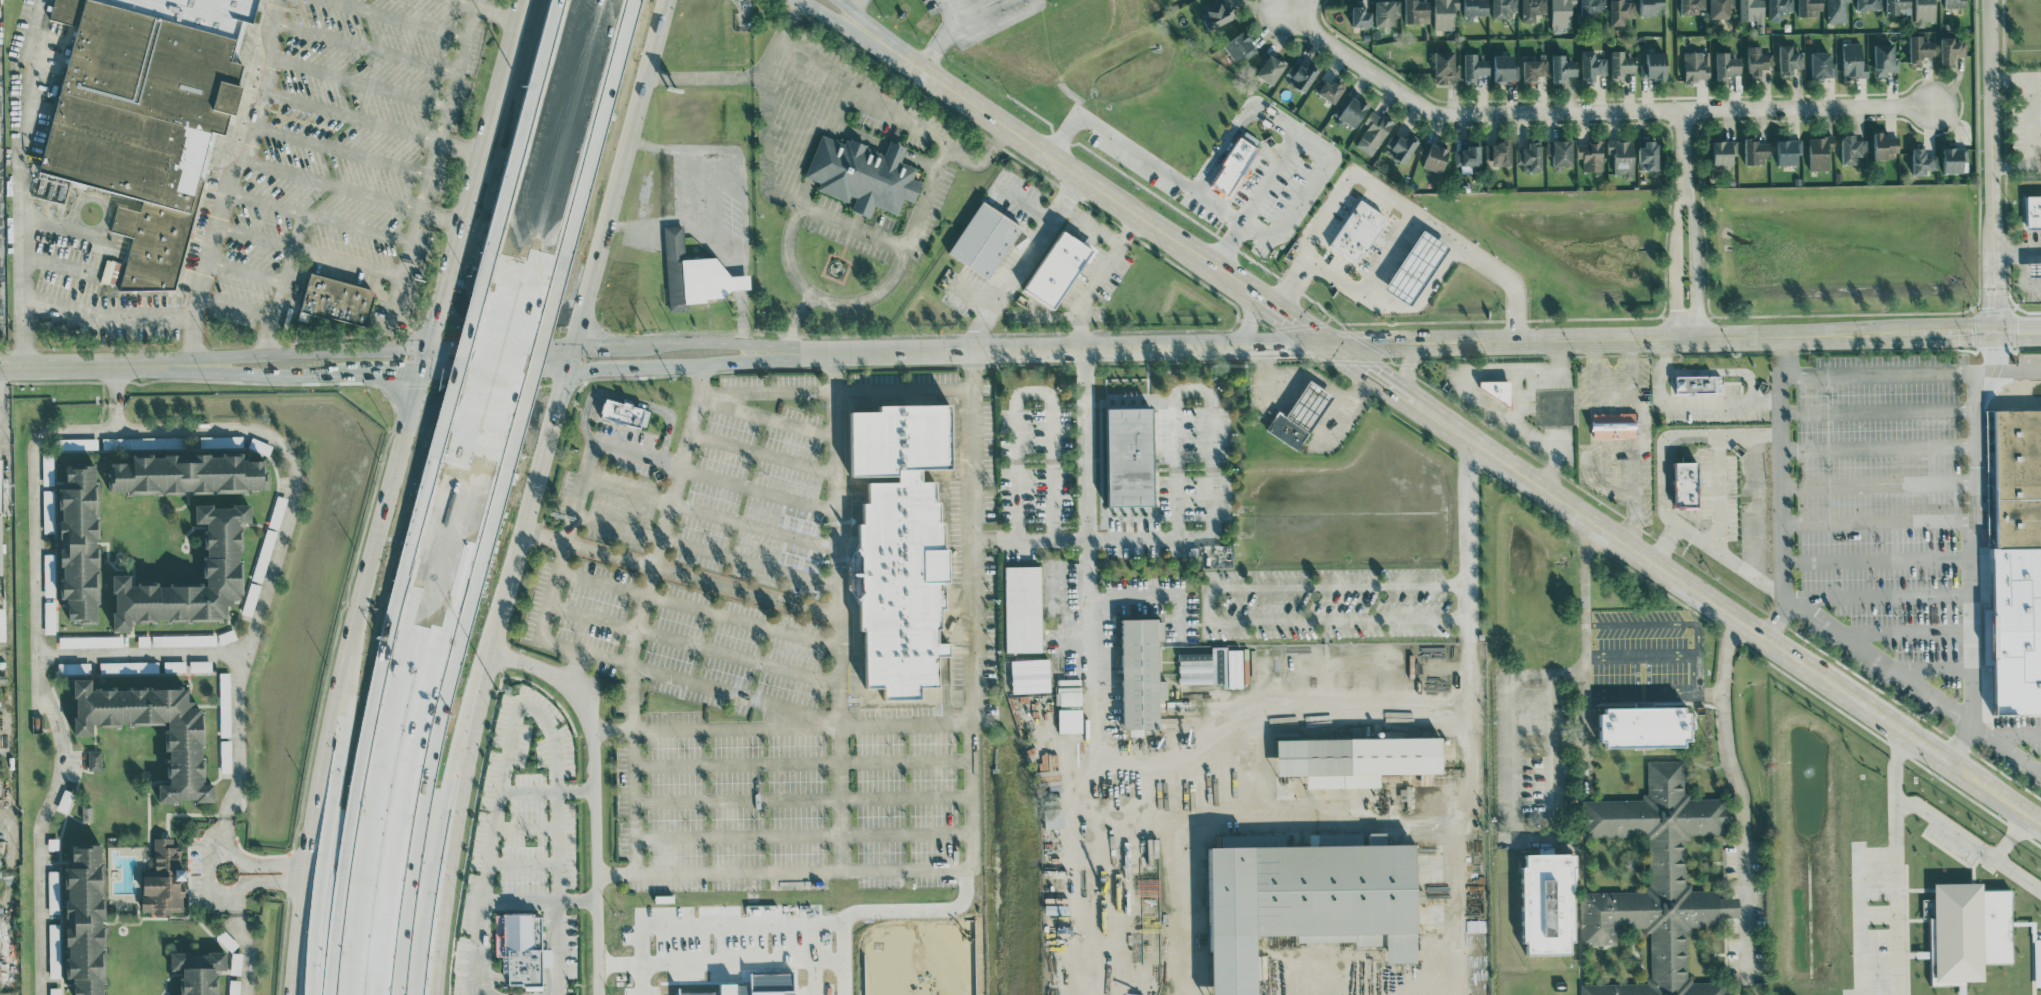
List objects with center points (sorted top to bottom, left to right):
road: (465, 3)
road: (475, 3)
building: (1955, 4)
building: (1869, 5)
building: (1693, 6)
road: (854, 7)
road: (1294, 7)
building: (1476, 7)
building: (1593, 7)
building: (1651, 7)
building: (1811, 7)
building: (1898, 7)
building: (1505, 8)
building: (1721, 8)
building: (1779, 8)
building: (1533, 9)
road: (848, 10)
building: (1752, 10)
building: (1836, 10)
building: (1417, 11)
building: (1621, 11)
building: (1925, 11)
road: (986, 12)
road: (496, 13)
building: (1387, 13)
building: (1218, 14)
building: (1445, 14)
building: (1562, 14)
road: (827, 15)
building: (1361, 17)
road: (948, 33)
road: (658, 40)
building: (1239, 46)
road: (509, 49)
building: (1920, 49)
building: (1951, 49)
building: (1758, 59)
building: (1789, 59)
building: (1885, 59)
building: (1854, 60)
building: (1621, 64)
building: (1727, 64)
building: (1823, 64)
building: (1655, 65)
building: (1695, 65)
building: (1446, 66)
building: (1475, 66)
building: (1592, 66)
building: (1271, 67)
building: (1506, 67)
building: (1534, 68)
building: (1563, 68)
building: (1300, 74)
road: (841, 84)
building: (1331, 89)
road: (2030, 103)
building: (1353, 111)
road: (1593, 111)
road: (352, 115)
building: (146, 116)
road: (1238, 120)
building: (1373, 132)
building: (1885, 144)
road: (461, 146)
building: (1401, 146)
parking lot: (341, 147)
building: (1853, 148)
road: (535, 150)
building: (1756, 150)
building: (1789, 150)
road: (343, 151)
building: (1499, 151)
road: (577, 152)
building: (1725, 152)
building: (1820, 152)
building: (1649, 154)
road: (1324, 155)
building: (1468, 155)
building: (1591, 155)
building: (1530, 156)
building: (1437, 157)
building: (1956, 158)
building: (1923, 160)
building: (1232, 166)
road: (1991, 167)
road: (2016, 168)
road: (1162, 169)
building: (864, 174)
road: (229, 178)
road: (20, 182)
road: (331, 186)
road: (688, 186)
road: (716, 196)
road: (1393, 198)
road: (1028, 203)
building: (2034, 211)
road: (443, 216)
road: (610, 218)
road: (838, 221)
road: (741, 223)
road: (1092, 224)
road: (1685, 224)
road: (462, 229)
building: (1357, 230)
road: (255, 233)
road: (416, 233)
building: (985, 238)
road: (2017, 252)
road: (1389, 254)
road: (1025, 263)
building: (1418, 265)
gas station: (1418, 265)
building: (1059, 267)
building: (2035, 268)
road: (246, 269)
building: (695, 273)
road: (2023, 274)
road: (1098, 277)
road: (978, 298)
building: (337, 299)
road: (826, 299)
road: (1388, 306)
road: (236, 307)
road: (1250, 315)
road: (106, 316)
road: (794, 317)
road: (512, 320)
road: (2008, 332)
road: (1947, 333)
traffic signals: (1975, 333)
traffic signals: (1320, 339)
road: (1378, 339)
road: (272, 340)
road: (742, 342)
road: (609, 344)
traffic signals: (575, 357)
traffic signals: (429, 360)
road: (287, 362)
road: (704, 362)
road: (1406, 367)
road: (475, 369)
road: (2008, 370)
road: (1879, 371)
road: (1293, 375)
road: (519, 376)
road: (700, 377)
road: (116, 383)
building: (1699, 383)
road: (905, 386)
road: (1463, 386)
road: (491, 390)
building: (1498, 390)
road: (1615, 390)
road: (564, 391)
road: (1033, 391)
road: (628, 399)
road: (1516, 405)
road: (1344, 406)
road: (1879, 410)
building: (625, 412)
building: (1300, 415)
road: (418, 421)
road: (1645, 423)
road: (1447, 425)
building: (1616, 426)
road: (1211, 438)
building: (107, 442)
building: (77, 443)
road: (1661, 446)
road: (1879, 446)
road: (592, 448)
road: (546, 450)
road: (1626, 450)
building: (1131, 456)
building: (188, 473)
building: (1687, 483)
road: (1880, 484)
building: (0, 486)
road: (1783, 489)
road: (1720, 498)
road: (1089, 513)
road: (1880, 522)
road: (1468, 538)
road: (1031, 540)
building: (80, 542)
building: (2019, 545)
building: (0, 547)
building: (900, 548)
road: (378, 550)
road: (1977, 552)
road: (1881, 559)
road: (274, 563)
road: (1730, 563)
building: (223, 565)
road: (680, 573)
building: (48, 574)
road: (1882, 596)
road: (1151, 599)
road: (1206, 604)
road: (548, 607)
building: (1023, 608)
road: (1674, 619)
building: (2, 624)
road: (1910, 631)
road: (1584, 652)
road: (1879, 659)
parking lot: (748, 664)
building: (126, 666)
road: (531, 666)
building: (1212, 667)
road: (1936, 668)
road: (40, 669)
building: (1030, 675)
building: (1141, 675)
road: (694, 682)
road: (1652, 687)
building: (1068, 695)
road: (1298, 707)
road: (390, 715)
road: (433, 720)
road: (906, 726)
building: (1647, 726)
road: (613, 729)
road: (472, 730)
road: (2004, 734)
road: (238, 736)
building: (184, 742)
road: (2014, 755)
building: (94, 759)
building: (1358, 759)
road: (502, 781)
road: (1742, 793)
road: (634, 795)
road: (839, 798)
road: (316, 806)
road: (333, 807)
road: (1466, 815)
road: (1513, 816)
building: (1053, 817)
road: (1165, 827)
road: (596, 836)
road: (2010, 839)
road: (439, 840)
road: (1968, 845)
road: (560, 850)
road: (265, 863)
road: (1894, 863)
road: (206, 868)
road: (617, 872)
building: (164, 880)
road: (265, 881)
building: (1657, 881)
building: (53, 891)
building: (1310, 898)
building: (1550, 903)
building: (86, 919)
road: (1857, 923)
road: (558, 930)
building: (1970, 931)
building: (521, 947)
road: (246, 954)
building: (2037, 962)
building: (198, 971)

